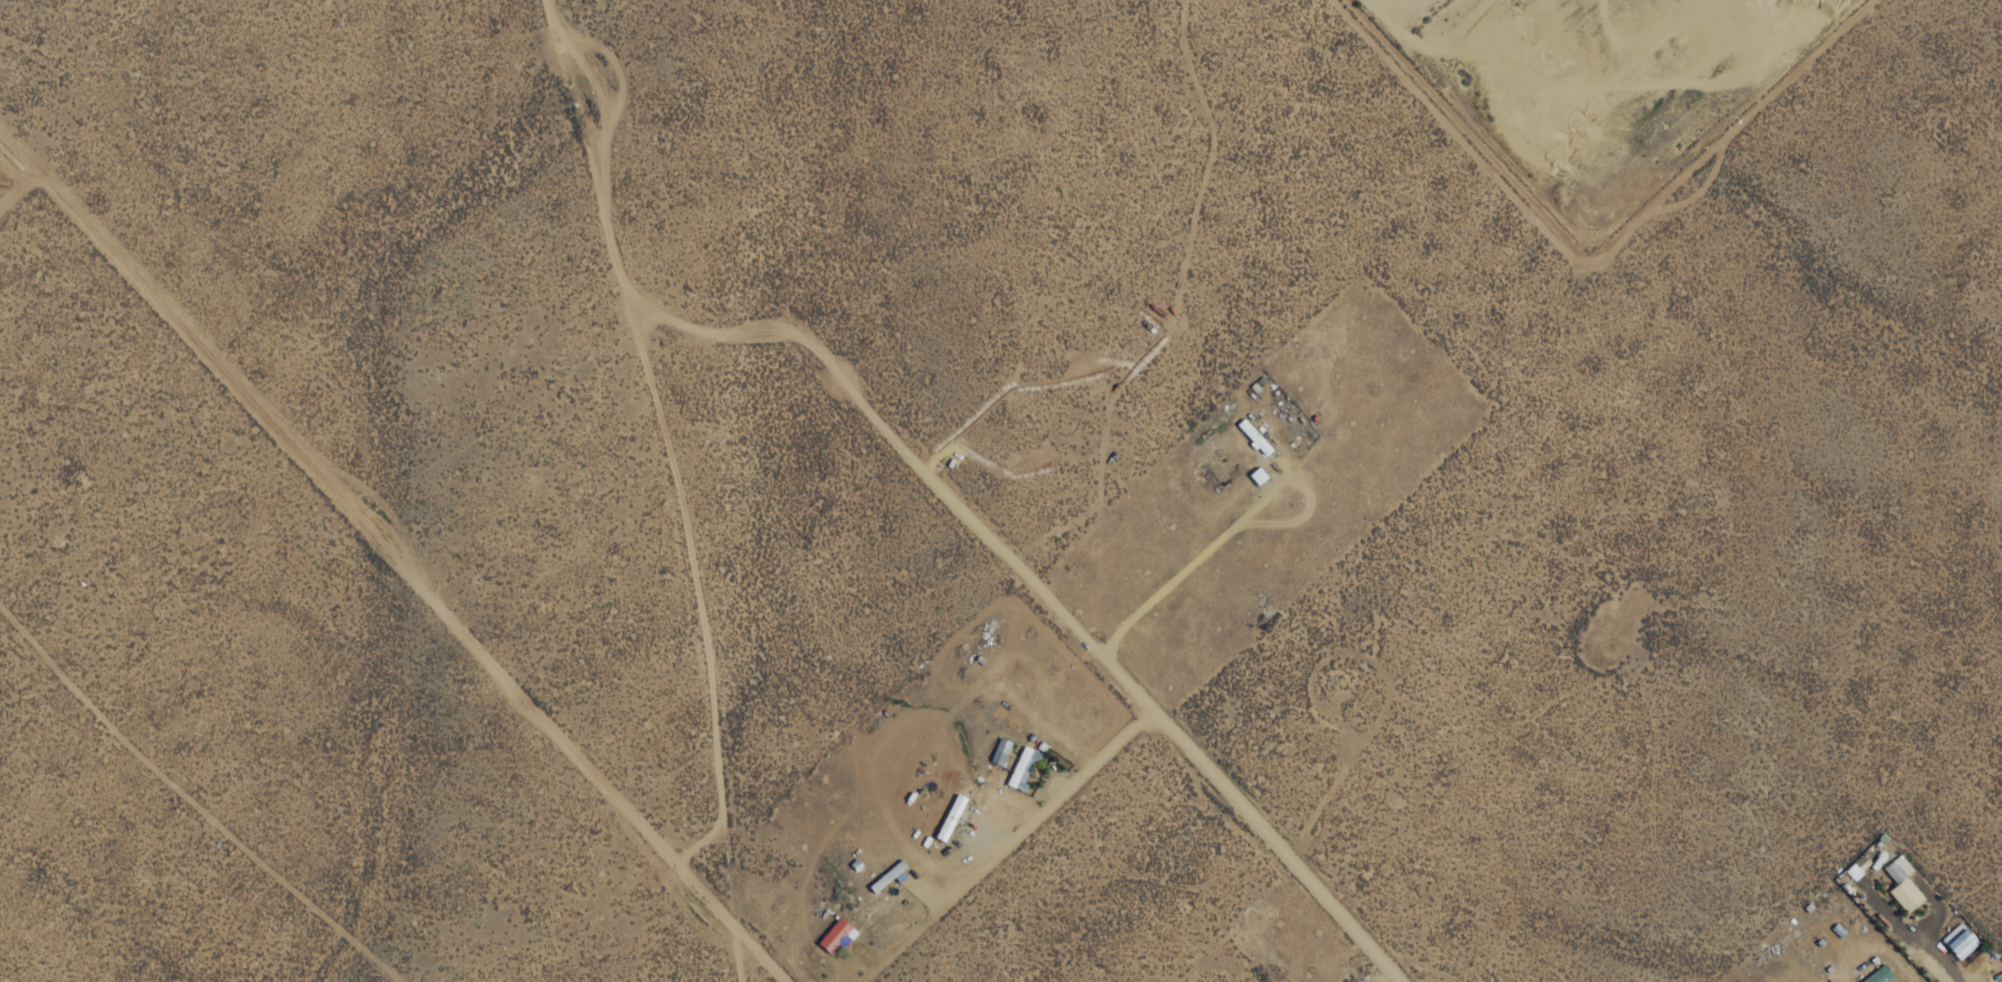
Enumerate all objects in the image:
landfill: (1595, 91)
building: (1253, 437)
building: (1257, 476)
road: (390, 559)
building: (999, 751)
building: (1022, 767)
road: (1215, 783)
building: (950, 817)
building: (1902, 883)
building: (837, 935)
building: (1960, 940)
building: (1879, 974)

